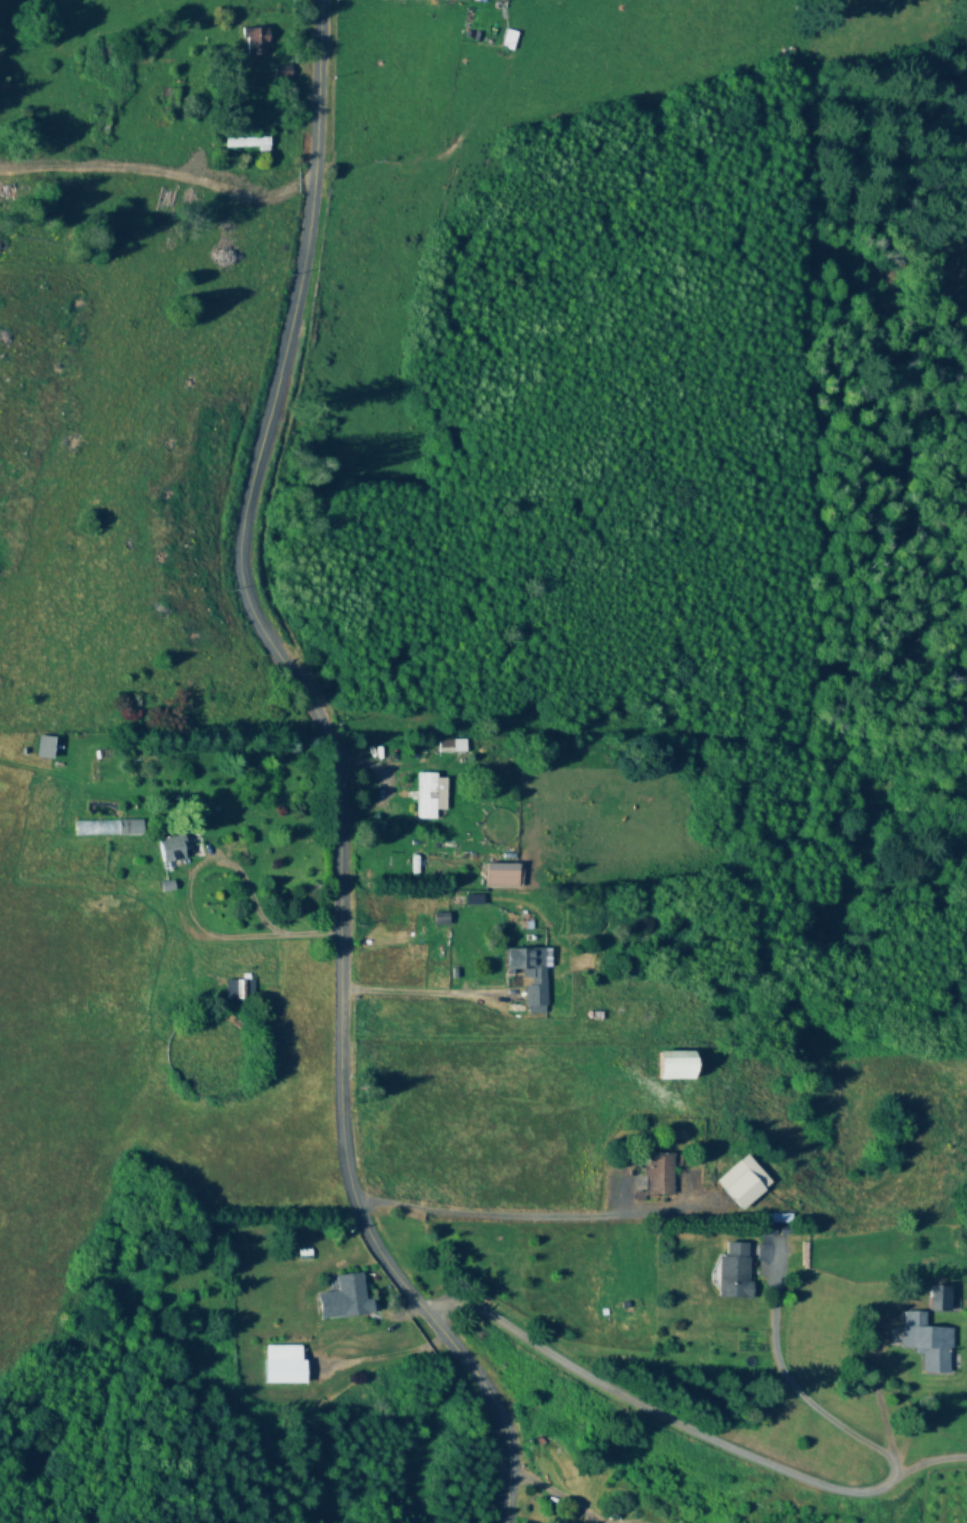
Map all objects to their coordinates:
building: (509, 40)
building: (256, 42)
building: (283, 73)
building: (101, 123)
building: (248, 144)
building: (459, 746)
building: (44, 747)
road: (338, 776)
building: (427, 796)
building: (130, 827)
building: (171, 849)
building: (504, 876)
road: (252, 916)
building: (530, 976)
road: (404, 987)
building: (239, 989)
building: (677, 1064)
building: (659, 1173)
building: (744, 1181)
road: (481, 1209)
building: (735, 1271)
building: (346, 1298)
building: (941, 1299)
building: (928, 1343)
building: (284, 1364)
road: (787, 1387)
road: (869, 1396)
road: (684, 1423)
road: (542, 1490)

